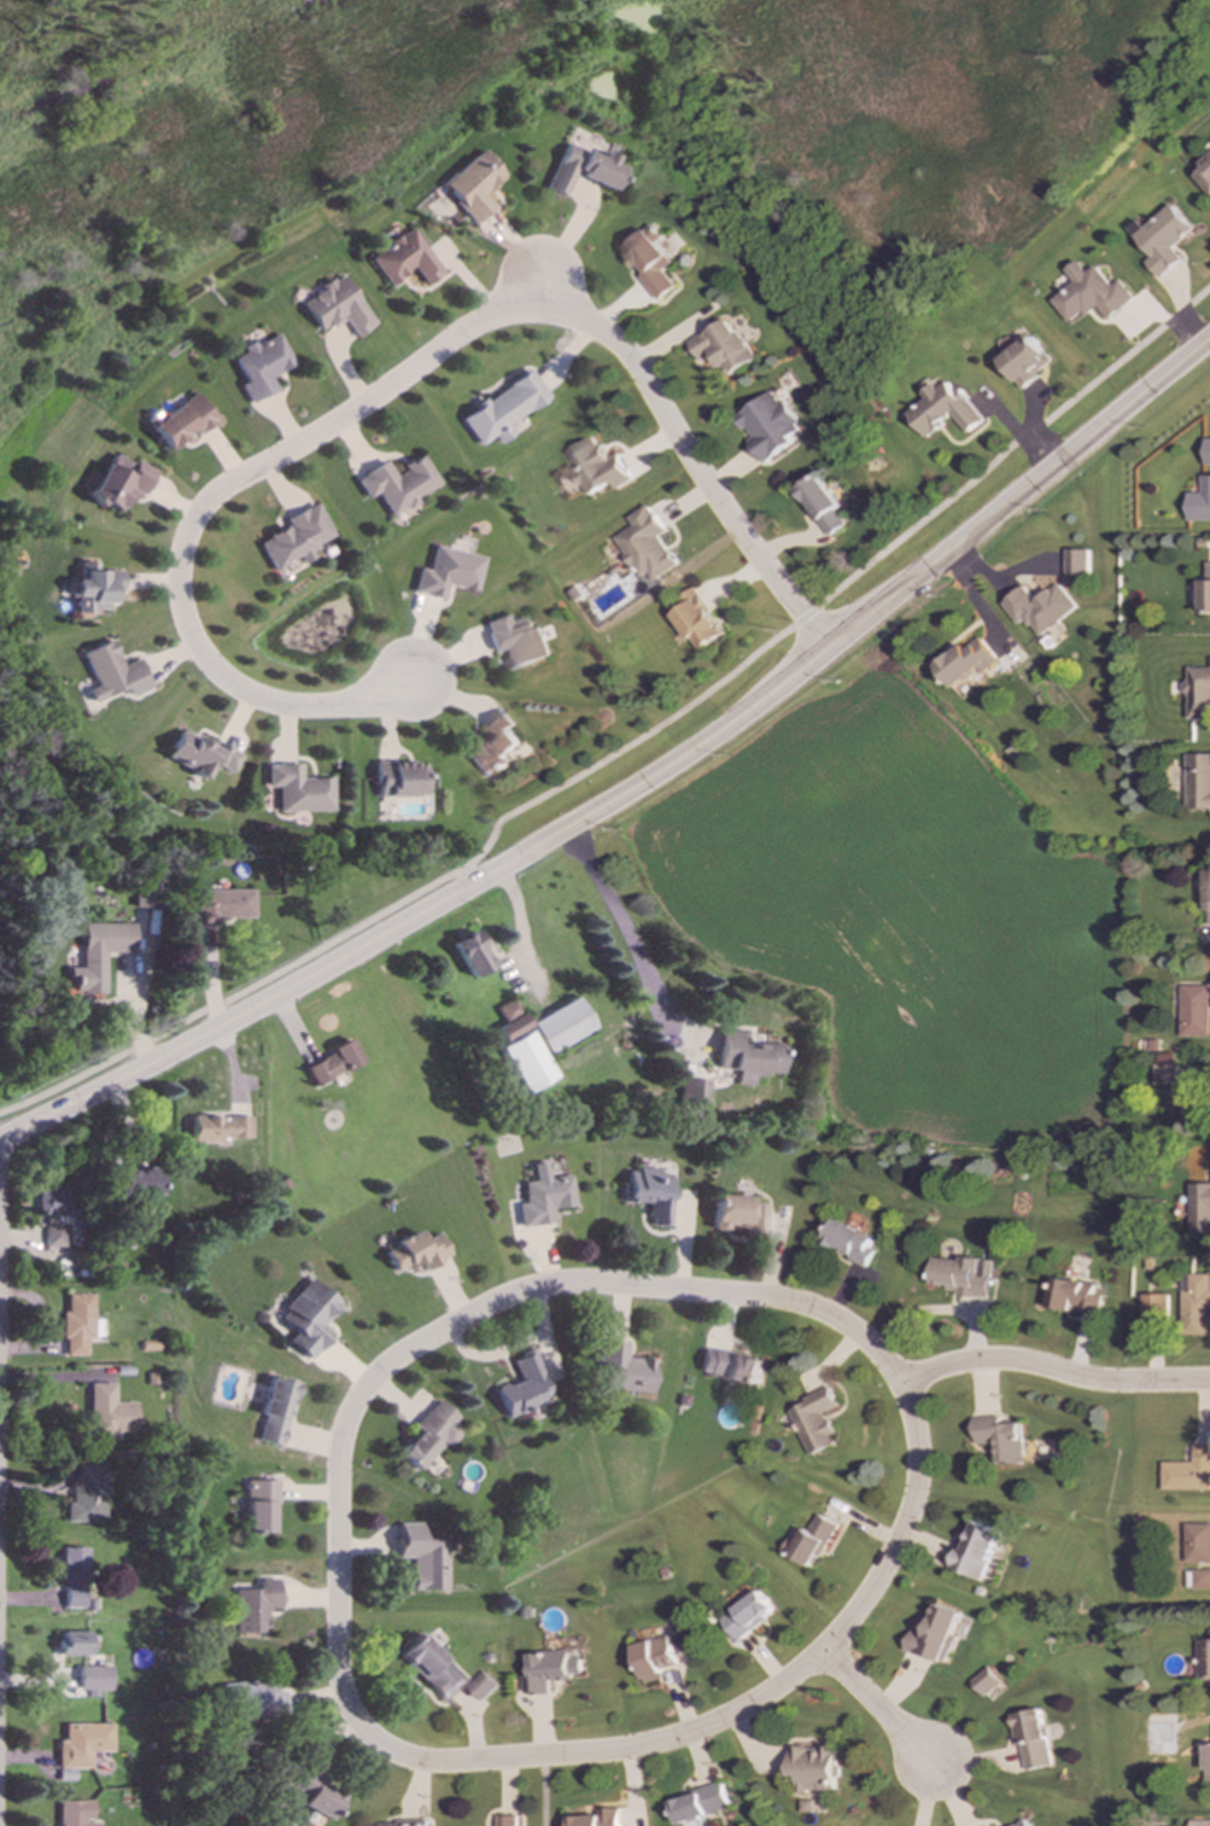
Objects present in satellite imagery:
building: (583, 169)
building: (1203, 174)
building: (473, 186)
building: (1164, 240)
building: (403, 258)
building: (649, 261)
building: (1092, 294)
building: (335, 307)
building: (723, 346)
building: (1027, 361)
building: (259, 367)
road: (401, 378)
building: (502, 409)
building: (946, 410)
building: (179, 420)
building: (770, 426)
building: (597, 467)
building: (118, 482)
building: (397, 484)
building: (1199, 502)
building: (823, 504)
building: (294, 538)
building: (647, 546)
building: (1076, 564)
building: (445, 572)
building: (92, 588)
building: (1205, 593)
building: (1039, 608)
building: (698, 620)
building: (516, 641)
building: (966, 661)
building: (110, 672)
building: (1198, 694)
road: (631, 741)
building: (493, 745)
building: (198, 754)
building: (398, 778)
building: (1197, 782)
road: (637, 787)
building: (297, 789)
road: (466, 875)
building: (142, 893)
building: (1208, 896)
building: (220, 905)
crop: (907, 920)
road: (630, 934)
building: (97, 953)
building: (468, 953)
building: (1194, 1010)
building: (509, 1020)
building: (559, 1025)
building: (747, 1057)
building: (331, 1062)
building: (525, 1062)
building: (1164, 1069)
building: (692, 1092)
building: (1194, 1103)
building: (216, 1128)
building: (140, 1180)
building: (648, 1192)
building: (542, 1197)
building: (53, 1202)
building: (1200, 1206)
building: (737, 1214)
building: (53, 1236)
building: (849, 1242)
building: (414, 1252)
building: (964, 1276)
building: (1074, 1296)
building: (1196, 1305)
building: (1155, 1308)
building: (306, 1318)
building: (77, 1324)
building: (730, 1366)
building: (622, 1371)
road: (1053, 1371)
building: (522, 1385)
building: (275, 1412)
building: (107, 1413)
building: (816, 1422)
building: (427, 1435)
building: (1000, 1439)
building: (1188, 1472)
building: (86, 1495)
building: (259, 1506)
building: (809, 1541)
building: (1197, 1544)
building: (975, 1550)
building: (422, 1558)
building: (72, 1575)
building: (1202, 1580)
building: (253, 1606)
building: (748, 1616)
building: (1209, 1632)
building: (935, 1634)
building: (74, 1643)
road: (339, 1653)
building: (654, 1658)
building: (1203, 1658)
building: (431, 1667)
building: (546, 1672)
building: (75, 1678)
building: (986, 1681)
building: (483, 1686)
building: (253, 1700)
road: (872, 1705)
building: (1031, 1740)
building: (82, 1744)
building: (1208, 1763)
building: (813, 1768)
road: (543, 1791)
building: (310, 1792)
building: (700, 1804)
building: (75, 1813)
building: (595, 1819)
building: (507, 1821)
building: (1022, 1822)
building: (1199, 1822)
building: (399, 1824)

